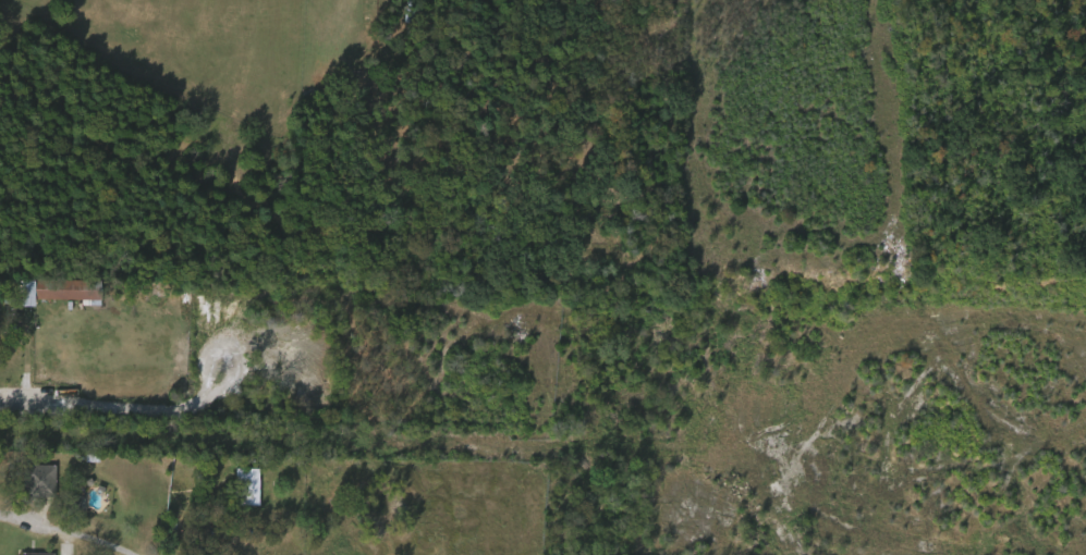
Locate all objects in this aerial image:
building: (69, 288)
building: (11, 297)
building: (60, 298)
road: (131, 414)
road: (466, 444)
building: (39, 480)
building: (248, 486)
building: (239, 494)
road: (69, 529)
building: (36, 553)

